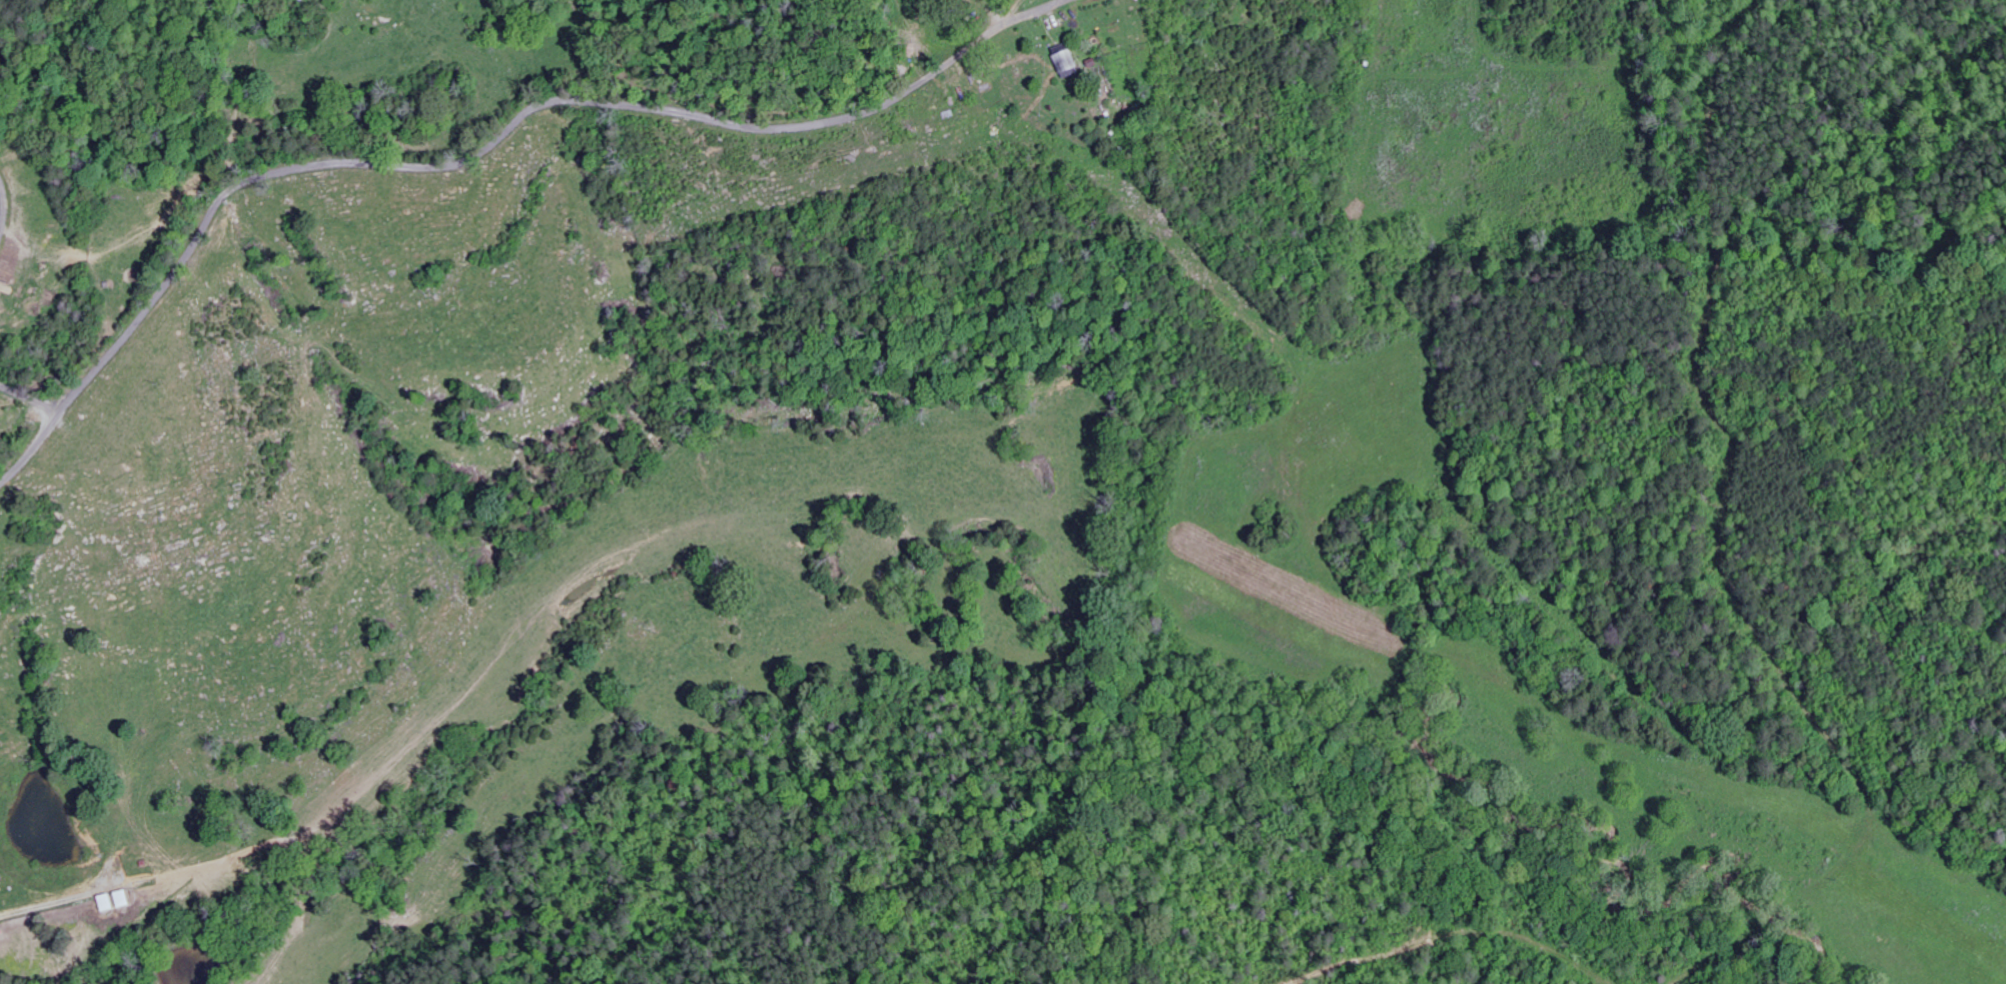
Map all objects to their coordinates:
building: (1066, 60)
road: (475, 153)
building: (0, 935)

